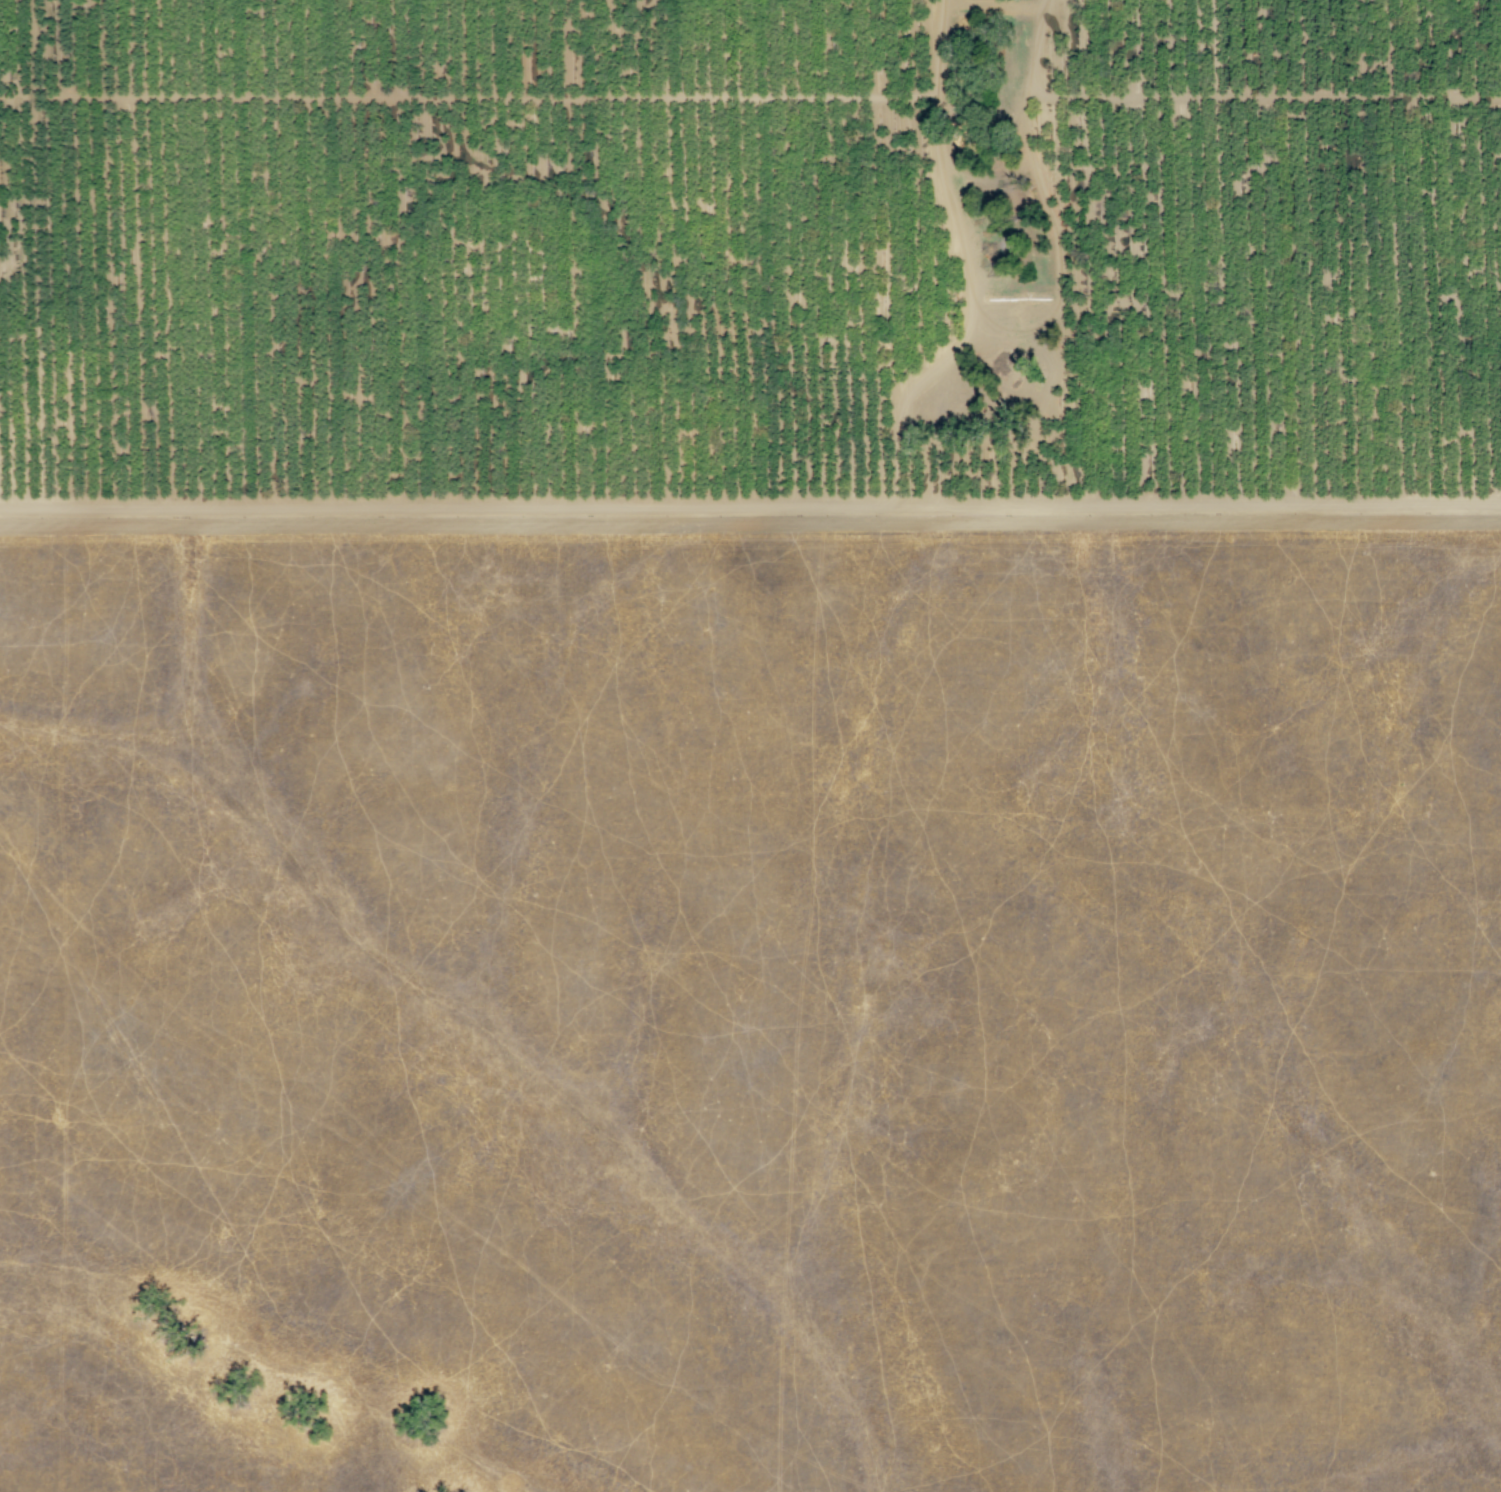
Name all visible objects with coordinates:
road: (999, 3)
road: (1262, 98)
road: (469, 99)
road: (1039, 194)
road: (968, 271)
road: (750, 506)
road: (750, 528)

